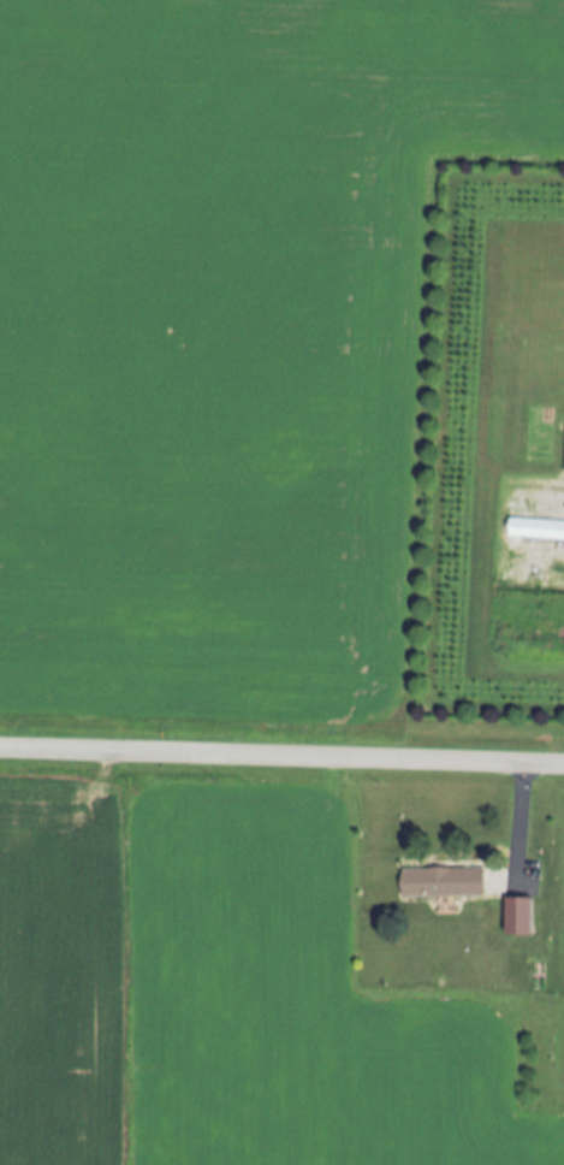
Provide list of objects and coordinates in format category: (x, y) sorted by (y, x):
building: (535, 530)
road: (281, 755)
road: (518, 816)
building: (441, 883)
building: (517, 918)

